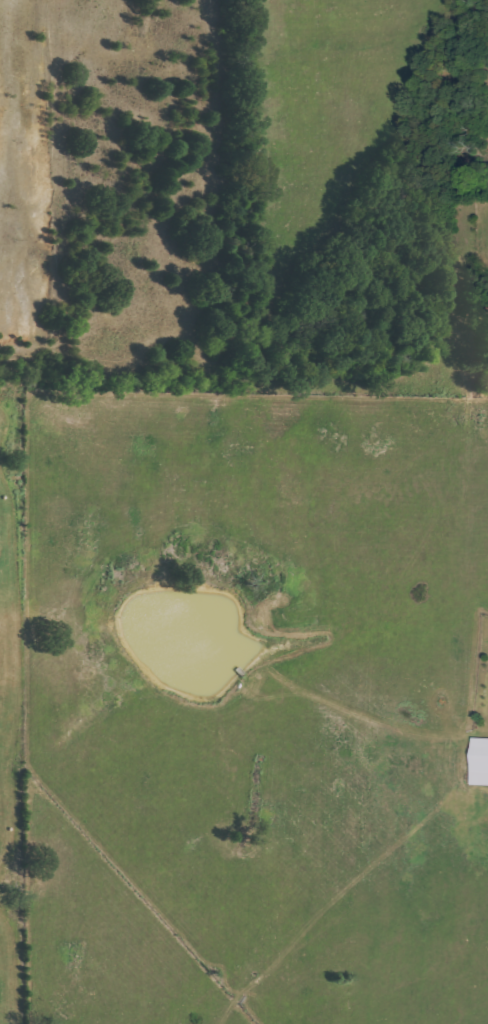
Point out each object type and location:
building: (480, 762)

